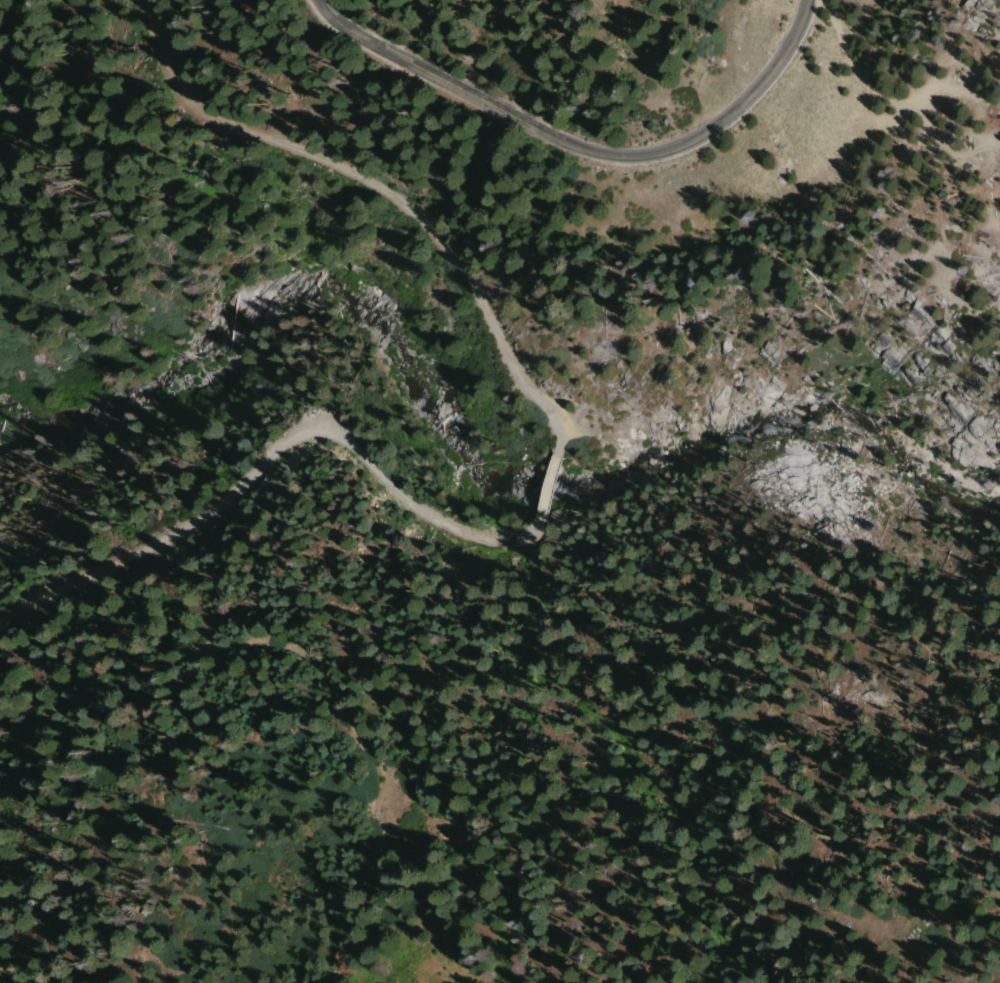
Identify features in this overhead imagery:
road: (576, 152)
road: (373, 189)
road: (303, 443)
road: (279, 653)

